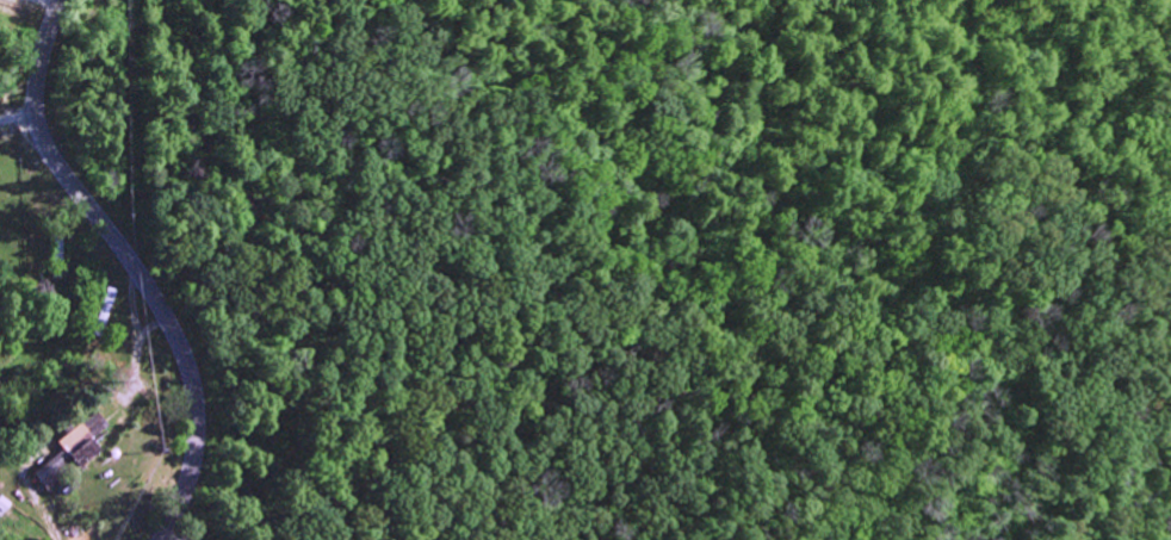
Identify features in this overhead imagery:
road: (18, 116)
road: (131, 263)
building: (79, 439)
building: (47, 480)

